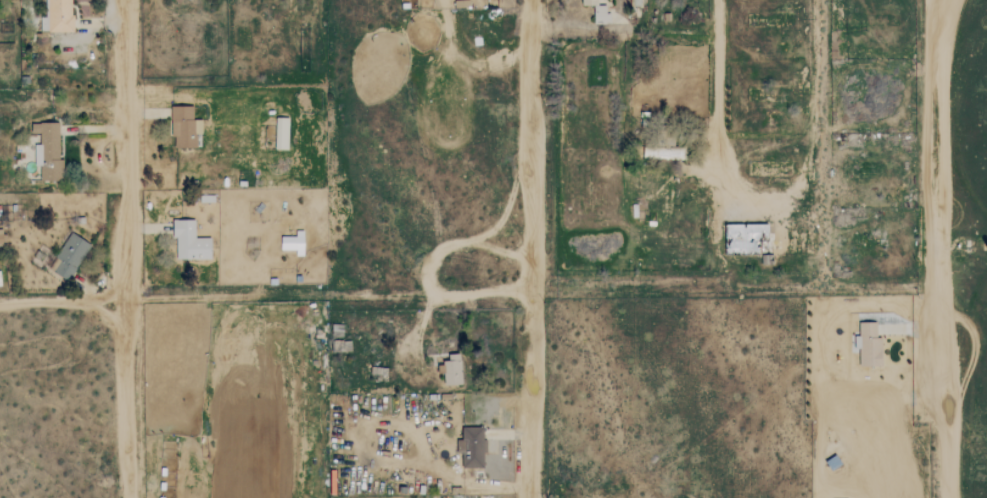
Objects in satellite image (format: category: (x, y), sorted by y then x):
building: (634, 3)
building: (598, 11)
building: (58, 15)
road: (101, 22)
building: (185, 127)
building: (282, 133)
building: (48, 152)
road: (763, 199)
road: (145, 227)
building: (1, 238)
building: (190, 242)
building: (294, 243)
road: (122, 248)
road: (528, 249)
road: (935, 249)
building: (70, 257)
road: (61, 299)
building: (868, 345)
building: (453, 370)
building: (472, 446)

